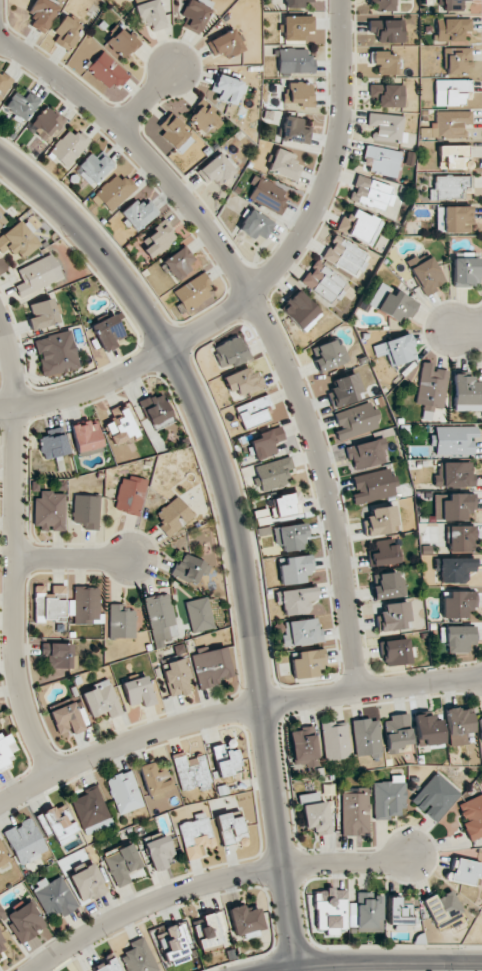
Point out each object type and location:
building: (295, 3)
building: (384, 5)
building: (451, 5)
building: (42, 14)
building: (150, 14)
building: (196, 14)
building: (296, 27)
building: (451, 29)
building: (388, 30)
building: (66, 32)
building: (123, 43)
building: (226, 44)
building: (295, 61)
building: (458, 61)
building: (385, 62)
building: (107, 70)
building: (4, 83)
building: (227, 89)
building: (450, 91)
building: (299, 94)
building: (388, 95)
road: (144, 100)
building: (21, 105)
building: (204, 119)
building: (46, 122)
building: (449, 123)
building: (386, 127)
building: (295, 129)
building: (172, 131)
building: (68, 147)
building: (453, 157)
building: (381, 161)
building: (284, 165)
building: (94, 167)
building: (215, 170)
building: (449, 188)
building: (114, 192)
building: (371, 193)
building: (138, 214)
building: (2, 219)
building: (453, 219)
building: (255, 225)
building: (360, 226)
building: (159, 239)
building: (17, 241)
building: (346, 256)
building: (178, 262)
building: (465, 271)
building: (38, 274)
building: (425, 274)
road: (264, 279)
building: (324, 282)
building: (194, 292)
building: (396, 306)
building: (301, 311)
building: (43, 313)
road: (260, 318)
road: (468, 329)
building: (107, 332)
building: (395, 350)
building: (229, 352)
building: (56, 353)
building: (328, 355)
building: (242, 382)
building: (431, 389)
building: (345, 390)
building: (465, 393)
building: (157, 411)
building: (252, 412)
building: (355, 420)
building: (120, 426)
building: (86, 436)
building: (454, 440)
building: (265, 442)
building: (53, 446)
building: (366, 453)
building: (273, 473)
building: (455, 475)
building: (373, 485)
building: (130, 495)
building: (286, 505)
building: (452, 506)
building: (49, 511)
building: (86, 511)
building: (173, 515)
building: (380, 520)
road: (236, 526)
building: (291, 537)
building: (460, 538)
road: (12, 548)
building: (383, 554)
road: (71, 557)
building: (190, 568)
building: (294, 568)
building: (455, 569)
building: (388, 585)
building: (296, 601)
building: (457, 603)
building: (49, 604)
building: (86, 605)
building: (199, 614)
building: (392, 616)
building: (160, 618)
building: (121, 622)
building: (301, 632)
building: (459, 638)
building: (396, 652)
building: (57, 655)
building: (306, 663)
building: (211, 667)
building: (176, 677)
building: (138, 691)
building: (101, 699)
road: (232, 710)
building: (66, 720)
building: (458, 724)
building: (480, 728)
building: (428, 730)
building: (396, 732)
building: (366, 738)
building: (335, 740)
building: (303, 747)
building: (5, 749)
building: (226, 760)
building: (192, 772)
building: (154, 779)
building: (124, 792)
building: (435, 797)
building: (389, 798)
building: (91, 811)
building: (355, 813)
building: (315, 814)
building: (472, 816)
building: (57, 823)
building: (230, 829)
building: (196, 836)
building: (25, 841)
building: (160, 852)
building: (2, 858)
building: (123, 864)
building: (465, 871)
building: (88, 883)
road: (213, 884)
building: (54, 896)
building: (329, 908)
building: (443, 911)
building: (366, 912)
building: (398, 914)
building: (245, 921)
building: (24, 922)
building: (209, 930)
building: (2, 943)
building: (174, 943)
building: (0, 956)
building: (139, 957)
road: (374, 962)
building: (107, 966)

